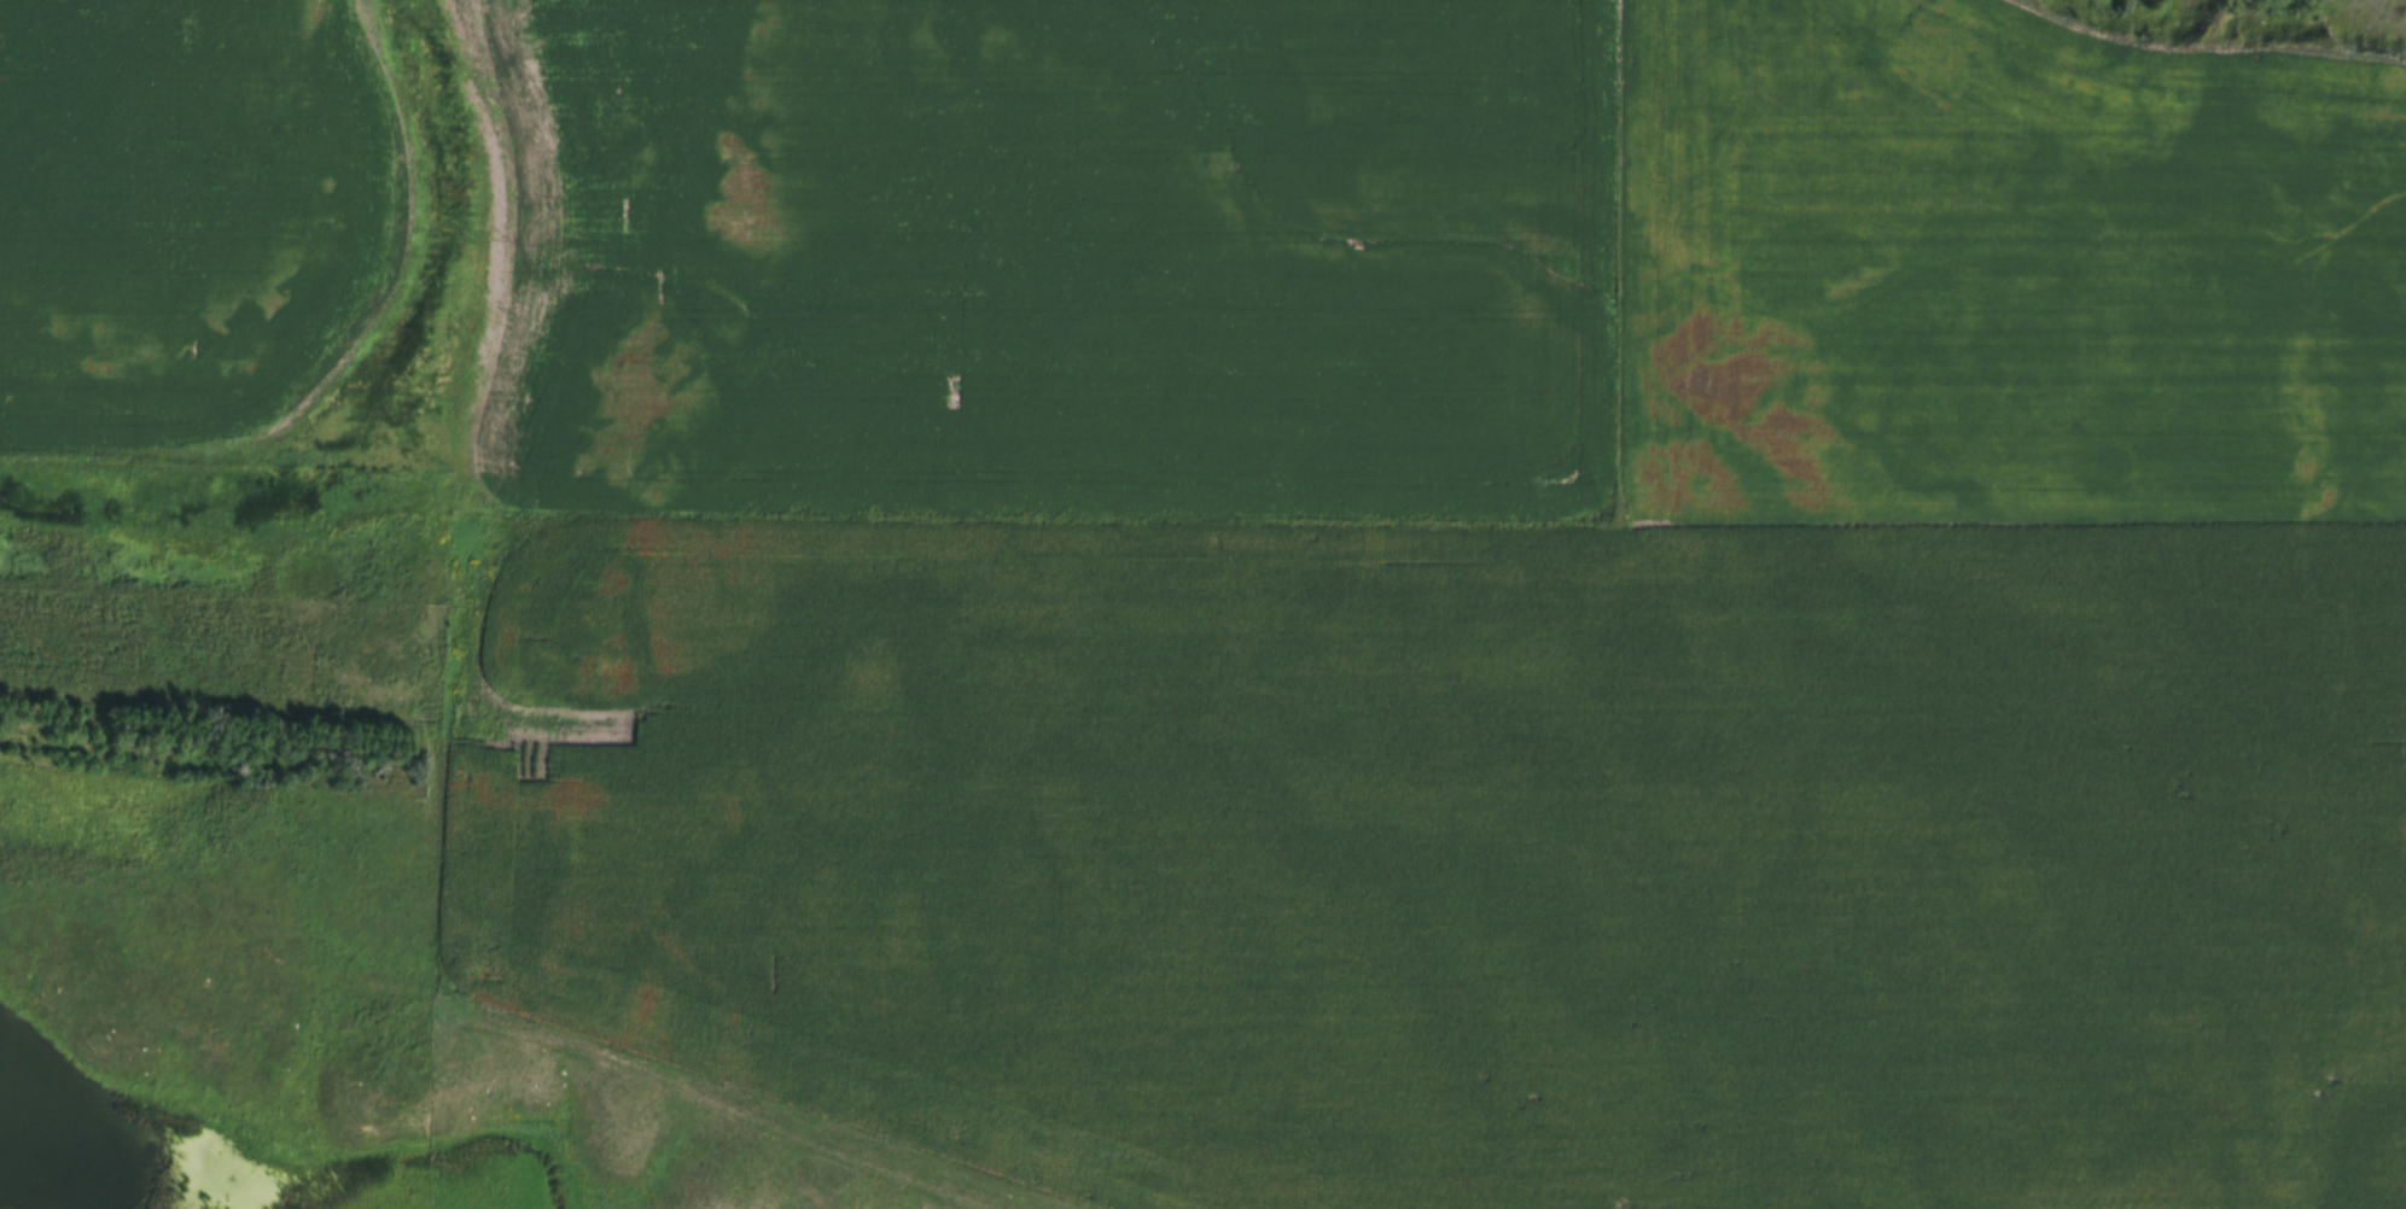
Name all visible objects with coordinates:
road: (1202, 512)

